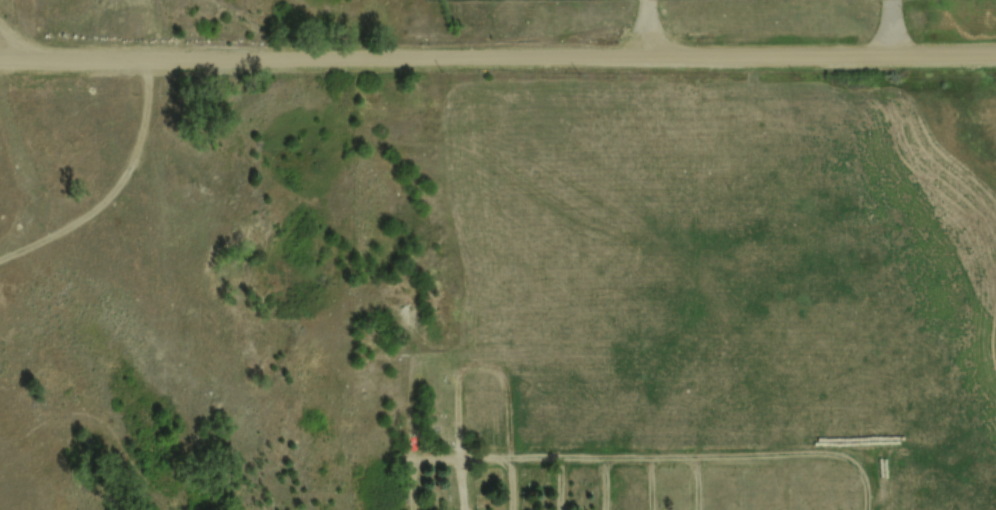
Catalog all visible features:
road: (498, 56)
road: (154, 255)
road: (631, 441)
road: (604, 475)
road: (651, 475)
road: (696, 475)
road: (512, 476)
road: (558, 476)

